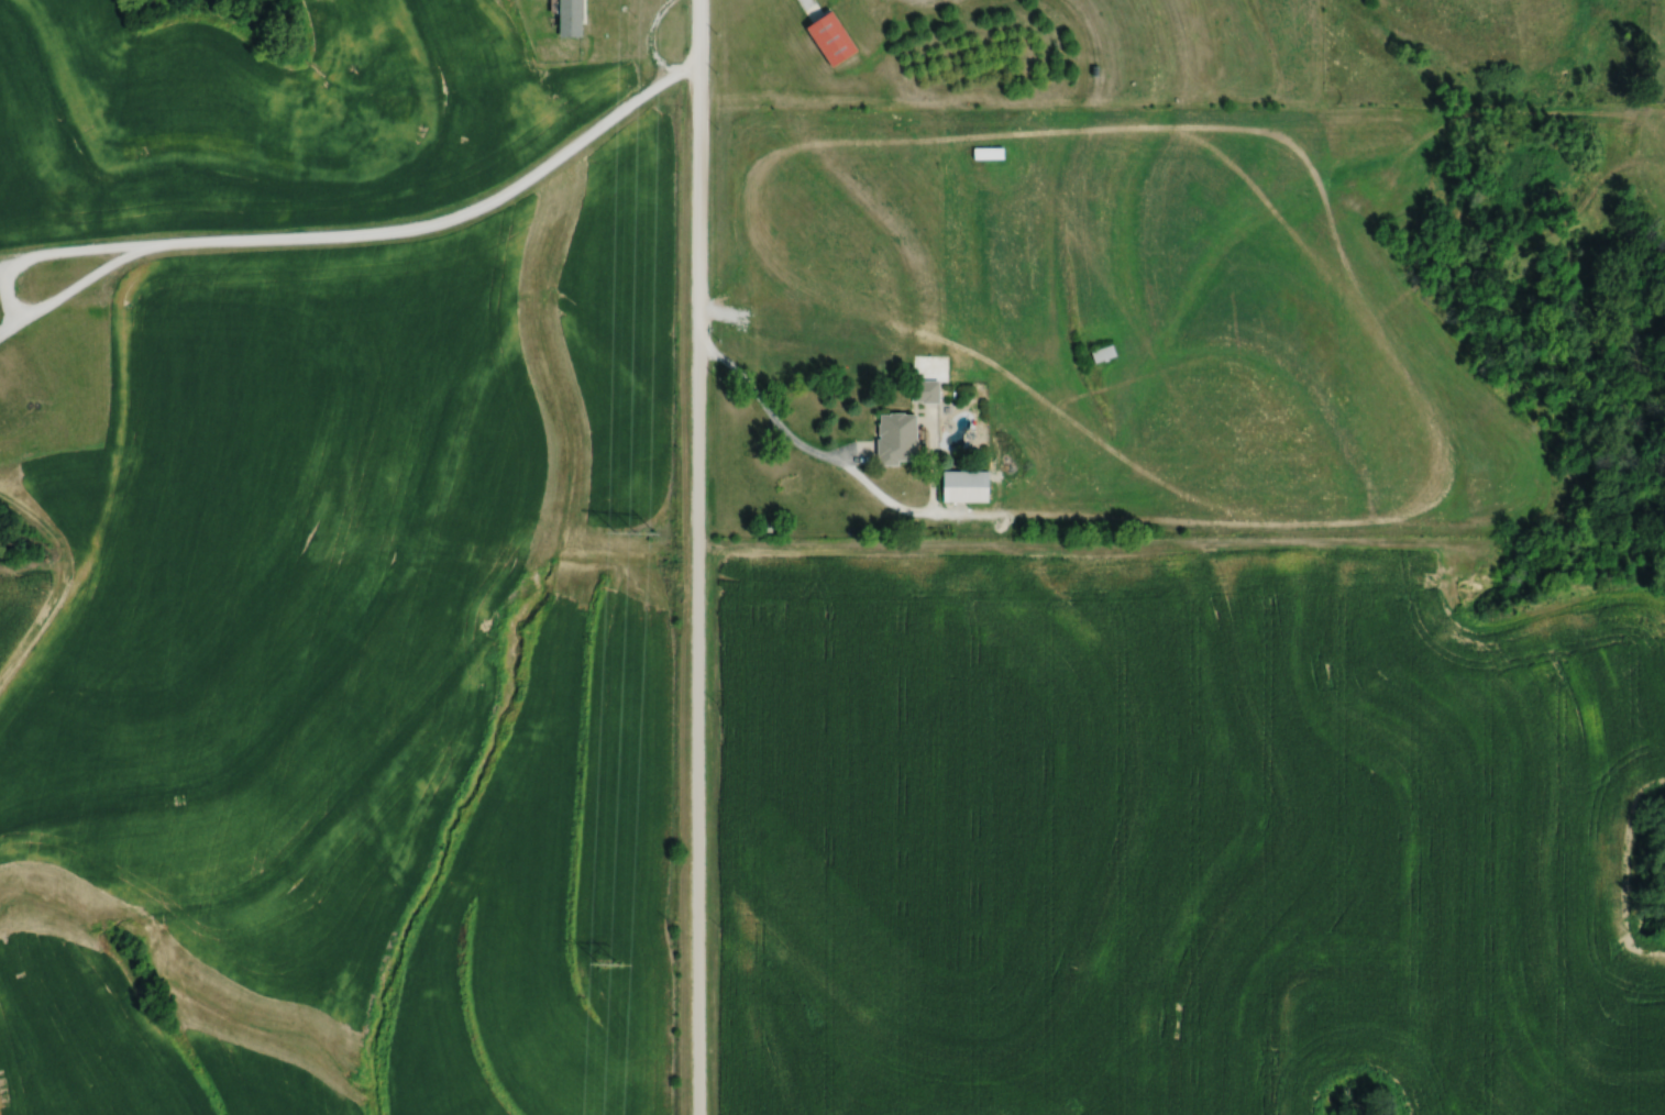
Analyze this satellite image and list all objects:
building: (566, 18)
building: (985, 152)
road: (346, 235)
road: (75, 252)
building: (1101, 352)
building: (923, 390)
road: (772, 416)
building: (893, 438)
building: (961, 485)
power tower: (631, 528)
road: (696, 556)
power tower: (606, 960)

